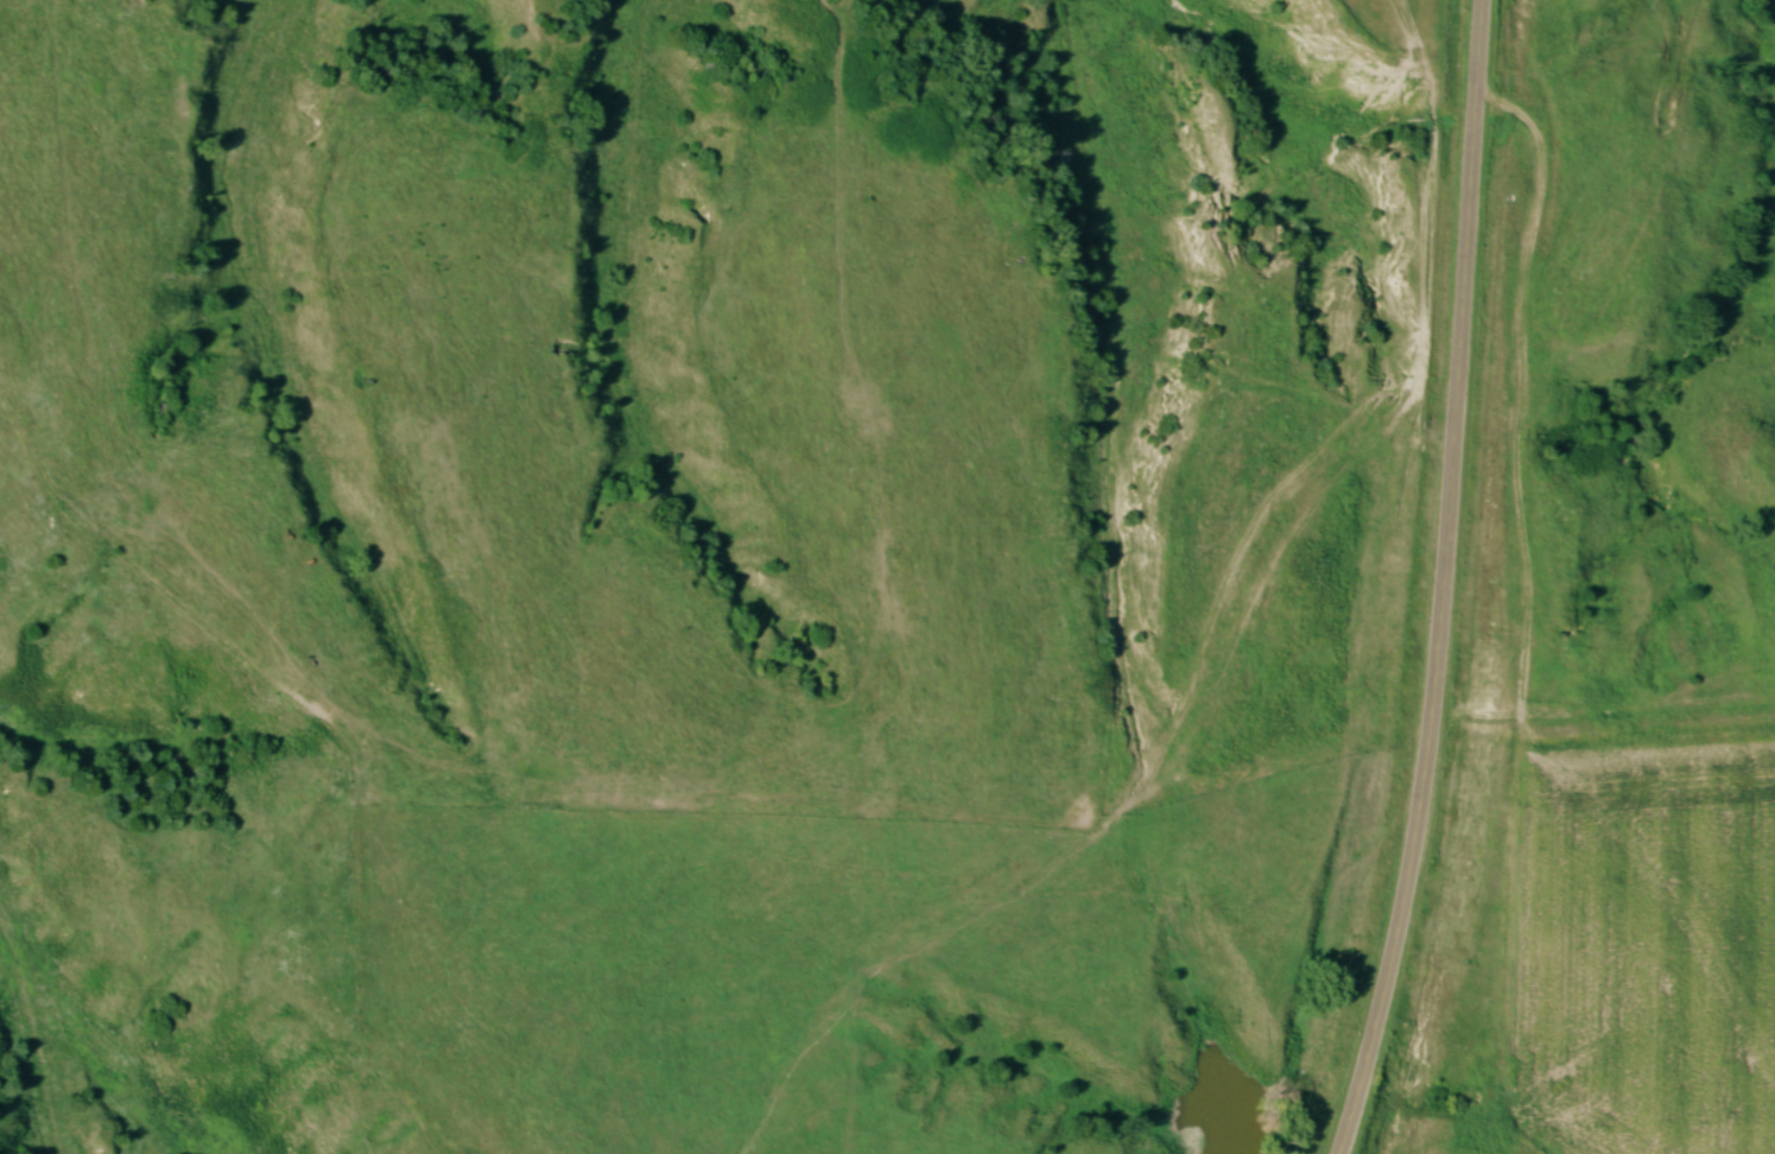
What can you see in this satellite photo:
road: (1445, 582)

